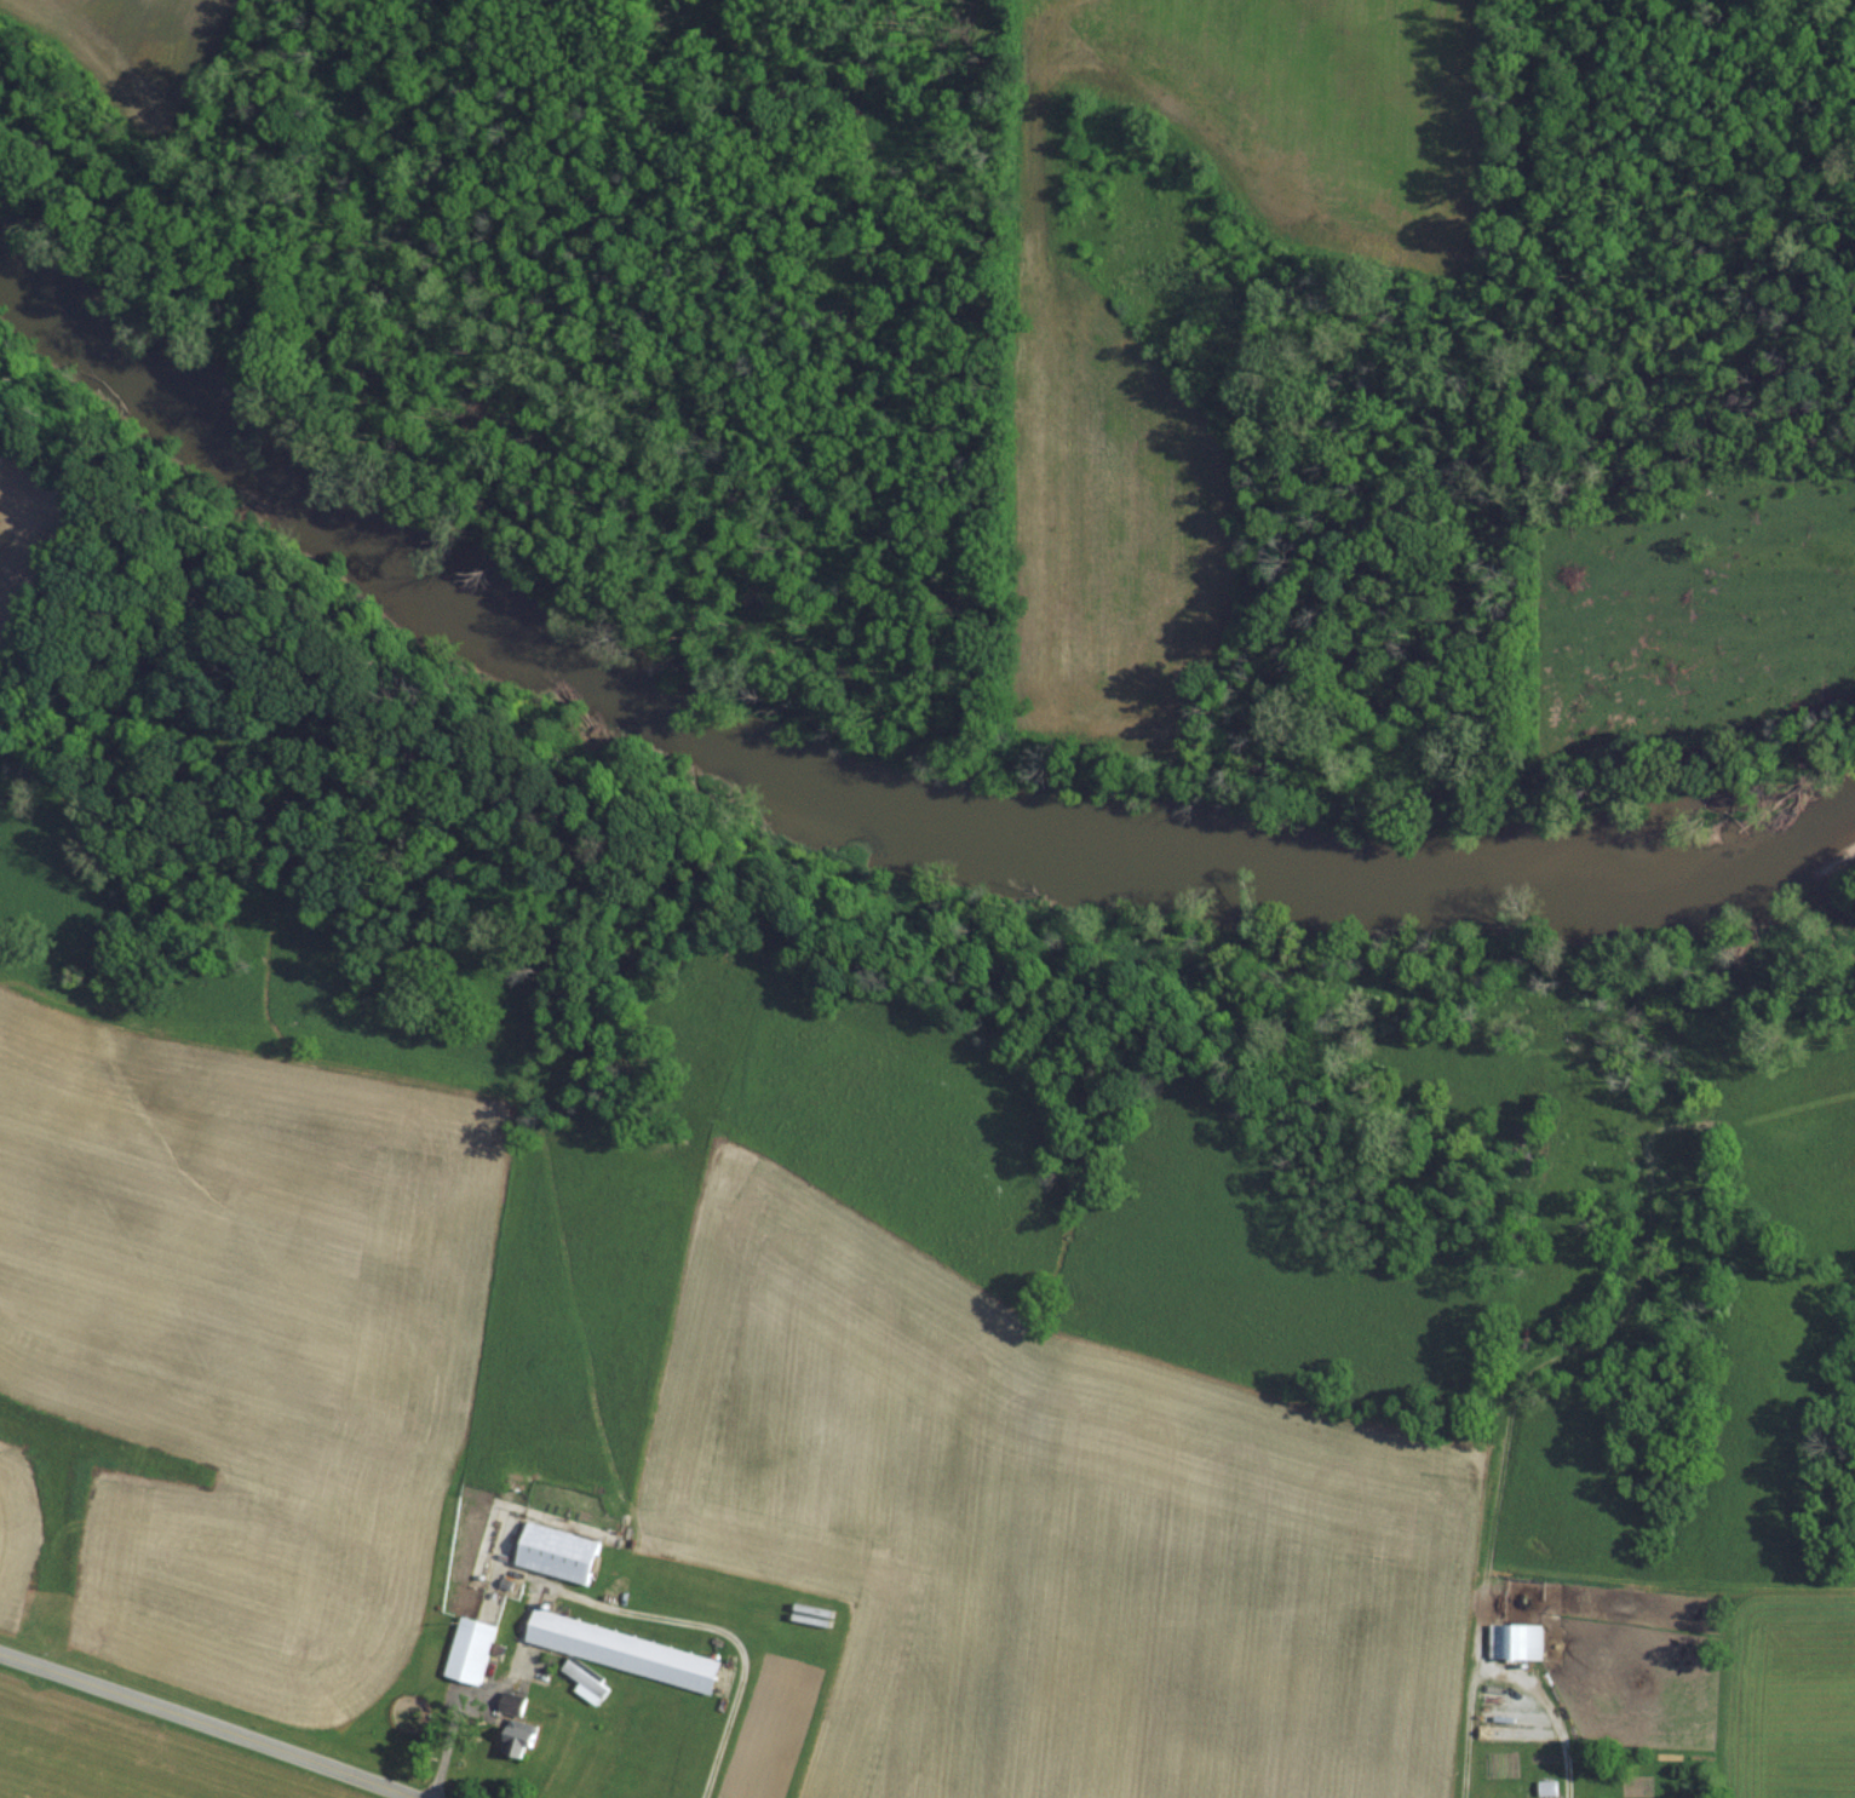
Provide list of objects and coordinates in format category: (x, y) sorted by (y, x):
river: (840, 774)
building: (562, 1552)
road: (596, 1605)
building: (1518, 1639)
building: (473, 1648)
building: (622, 1654)
road: (1504, 1675)
road: (205, 1724)
building: (1556, 1797)

